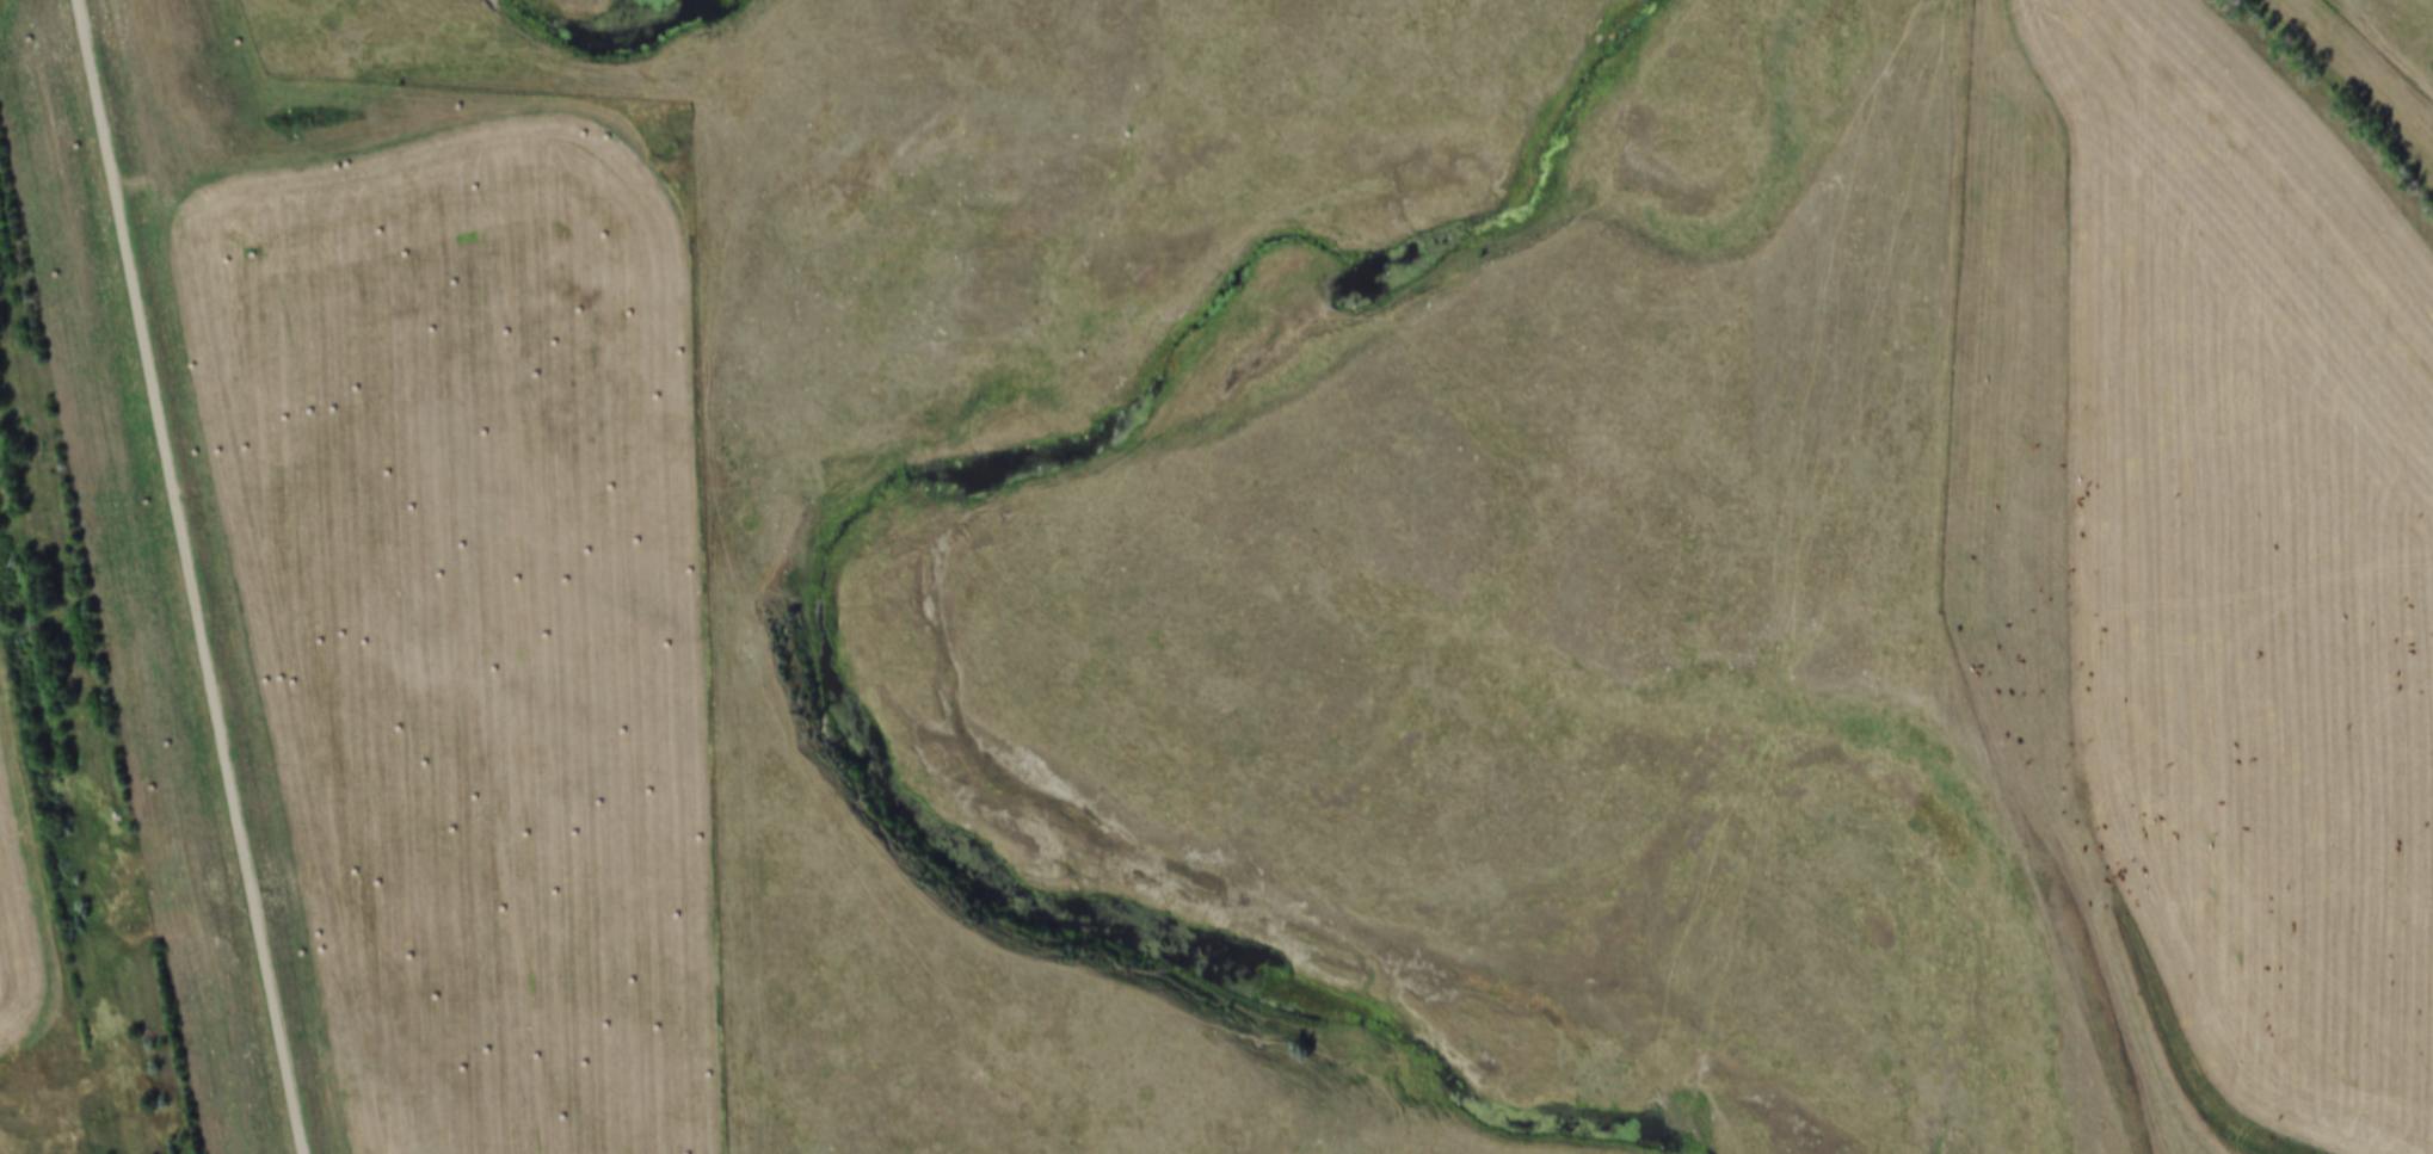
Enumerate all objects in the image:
road: (192, 576)

